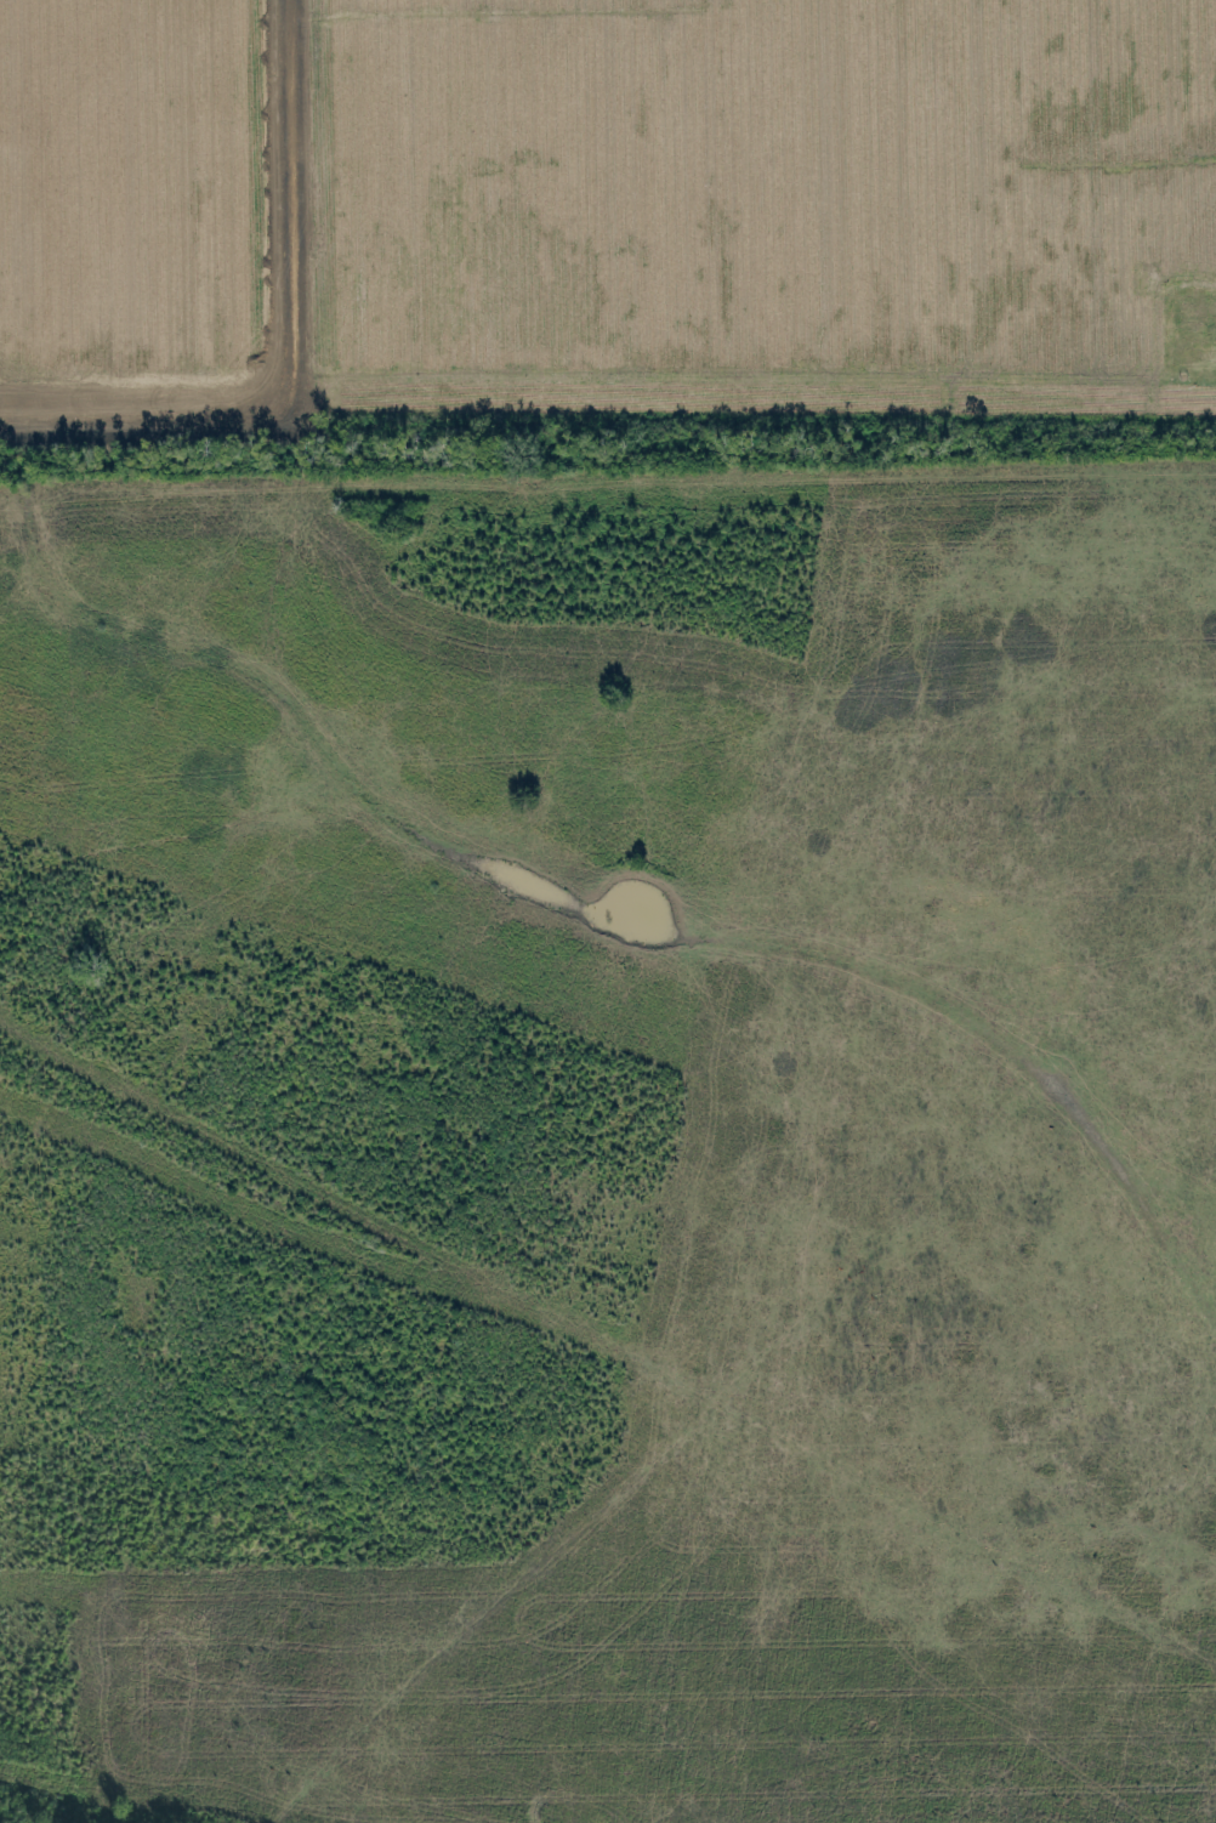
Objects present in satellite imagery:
road: (608, 448)

